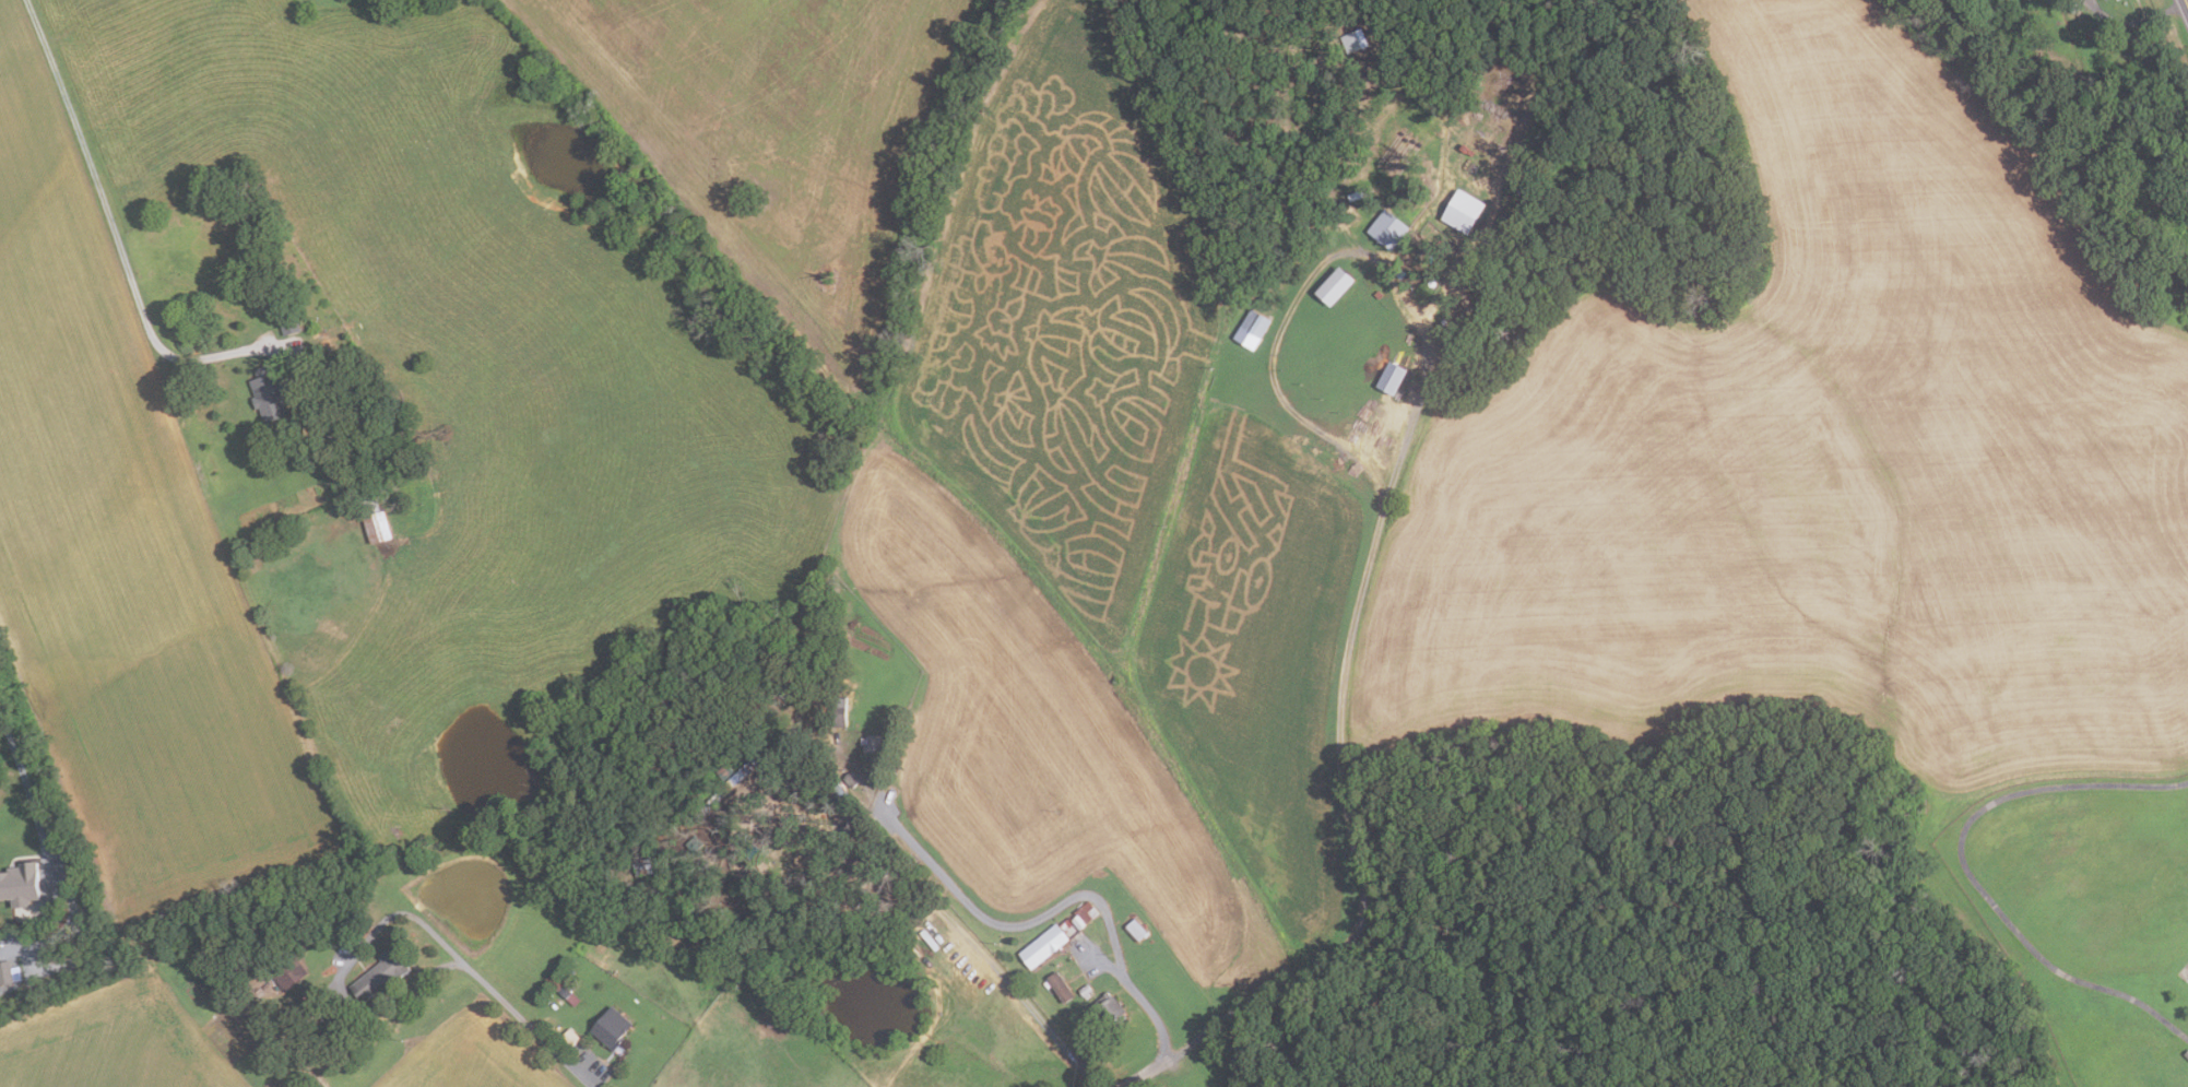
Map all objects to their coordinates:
building: (2072, 8)
road: (2134, 22)
building: (1355, 42)
road: (93, 165)
building: (2184, 189)
building: (2160, 194)
building: (1462, 212)
building: (1386, 229)
building: (1398, 273)
building: (1333, 287)
building: (1377, 294)
building: (292, 323)
building: (1251, 330)
road: (216, 354)
building: (1391, 379)
building: (274, 392)
building: (334, 465)
building: (379, 520)
road: (1376, 527)
crop: (128, 568)
building: (823, 607)
building: (784, 692)
building: (838, 710)
road: (17, 758)
building: (723, 771)
building: (771, 777)
building: (851, 780)
building: (732, 781)
building: (783, 781)
building: (829, 796)
building: (837, 813)
building: (694, 844)
building: (641, 864)
road: (1966, 871)
building: (23, 884)
building: (825, 899)
building: (1084, 914)
road: (984, 919)
building: (747, 921)
building: (1135, 929)
building: (1042, 945)
building: (7, 971)
park: (2184, 971)
building: (385, 973)
building: (291, 974)
building: (1057, 986)
building: (1084, 990)
building: (568, 994)
road: (499, 999)
road: (353, 1000)
building: (554, 1004)
building: (1110, 1009)
road: (1151, 1012)
building: (238, 1026)
building: (611, 1026)
building: (569, 1037)
building: (2186, 1053)
road: (1145, 1072)
building: (317, 1082)

